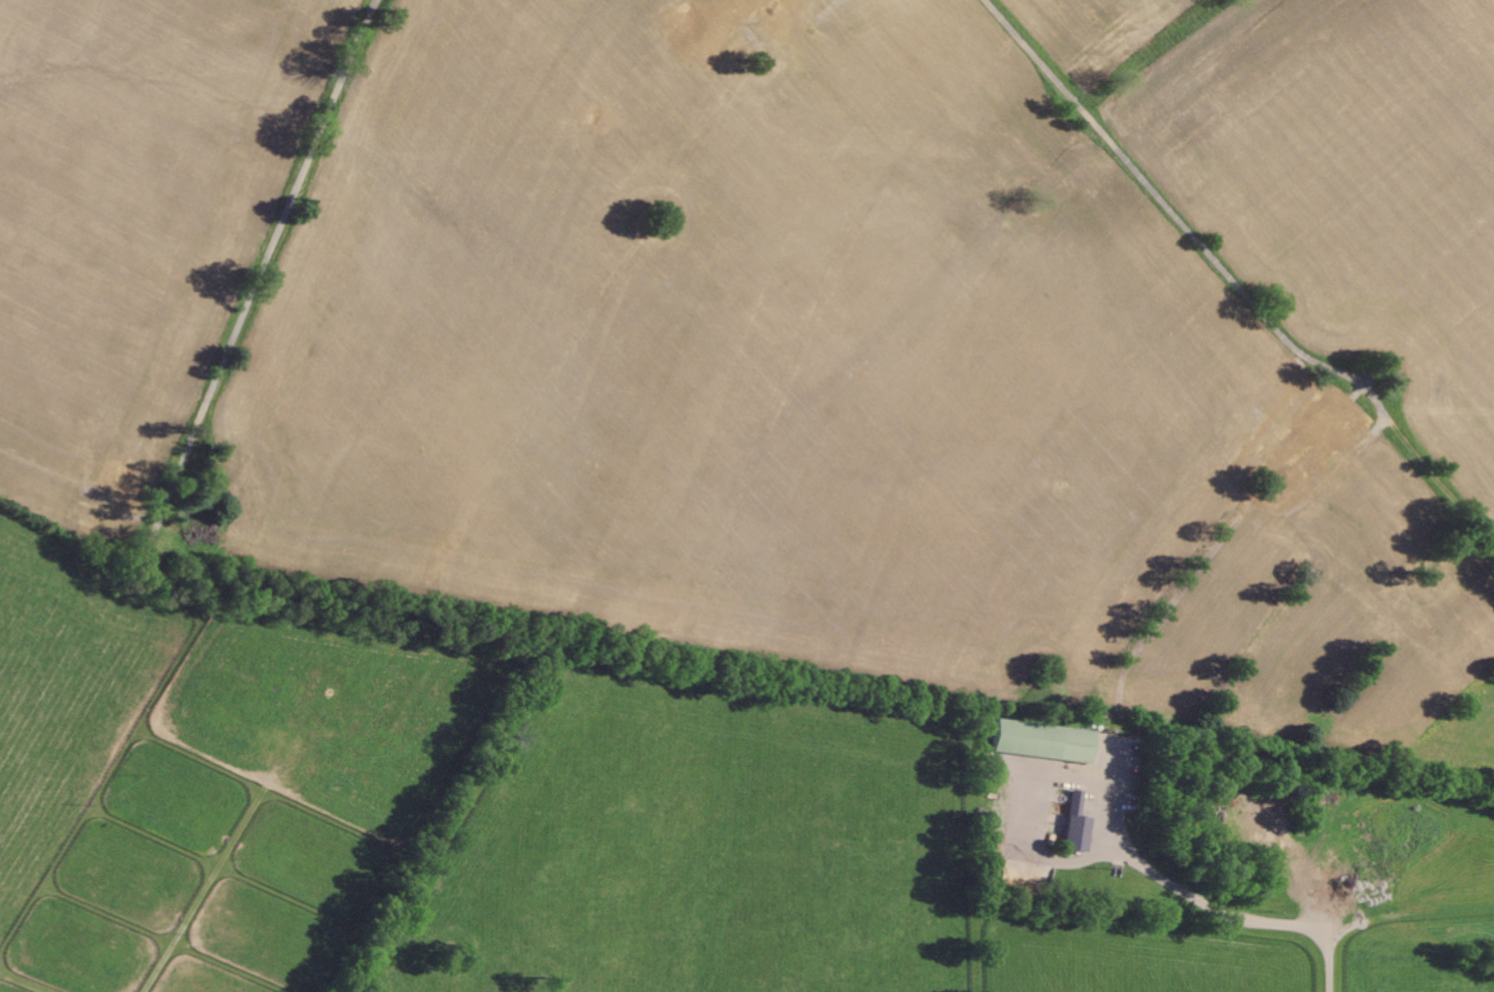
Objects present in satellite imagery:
road: (1178, 218)
road: (265, 267)
building: (1045, 741)
building: (1078, 825)
road: (1233, 915)

